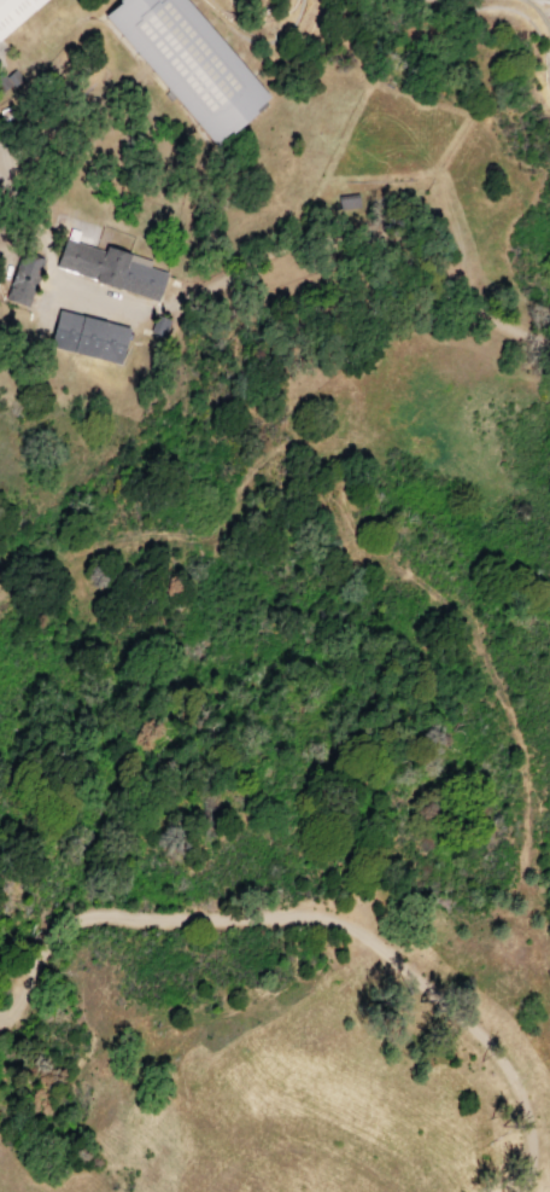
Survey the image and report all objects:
railway: (493, 8)
building: (17, 14)
railway: (544, 27)
building: (186, 69)
building: (347, 200)
building: (112, 256)
building: (24, 279)
building: (90, 336)

